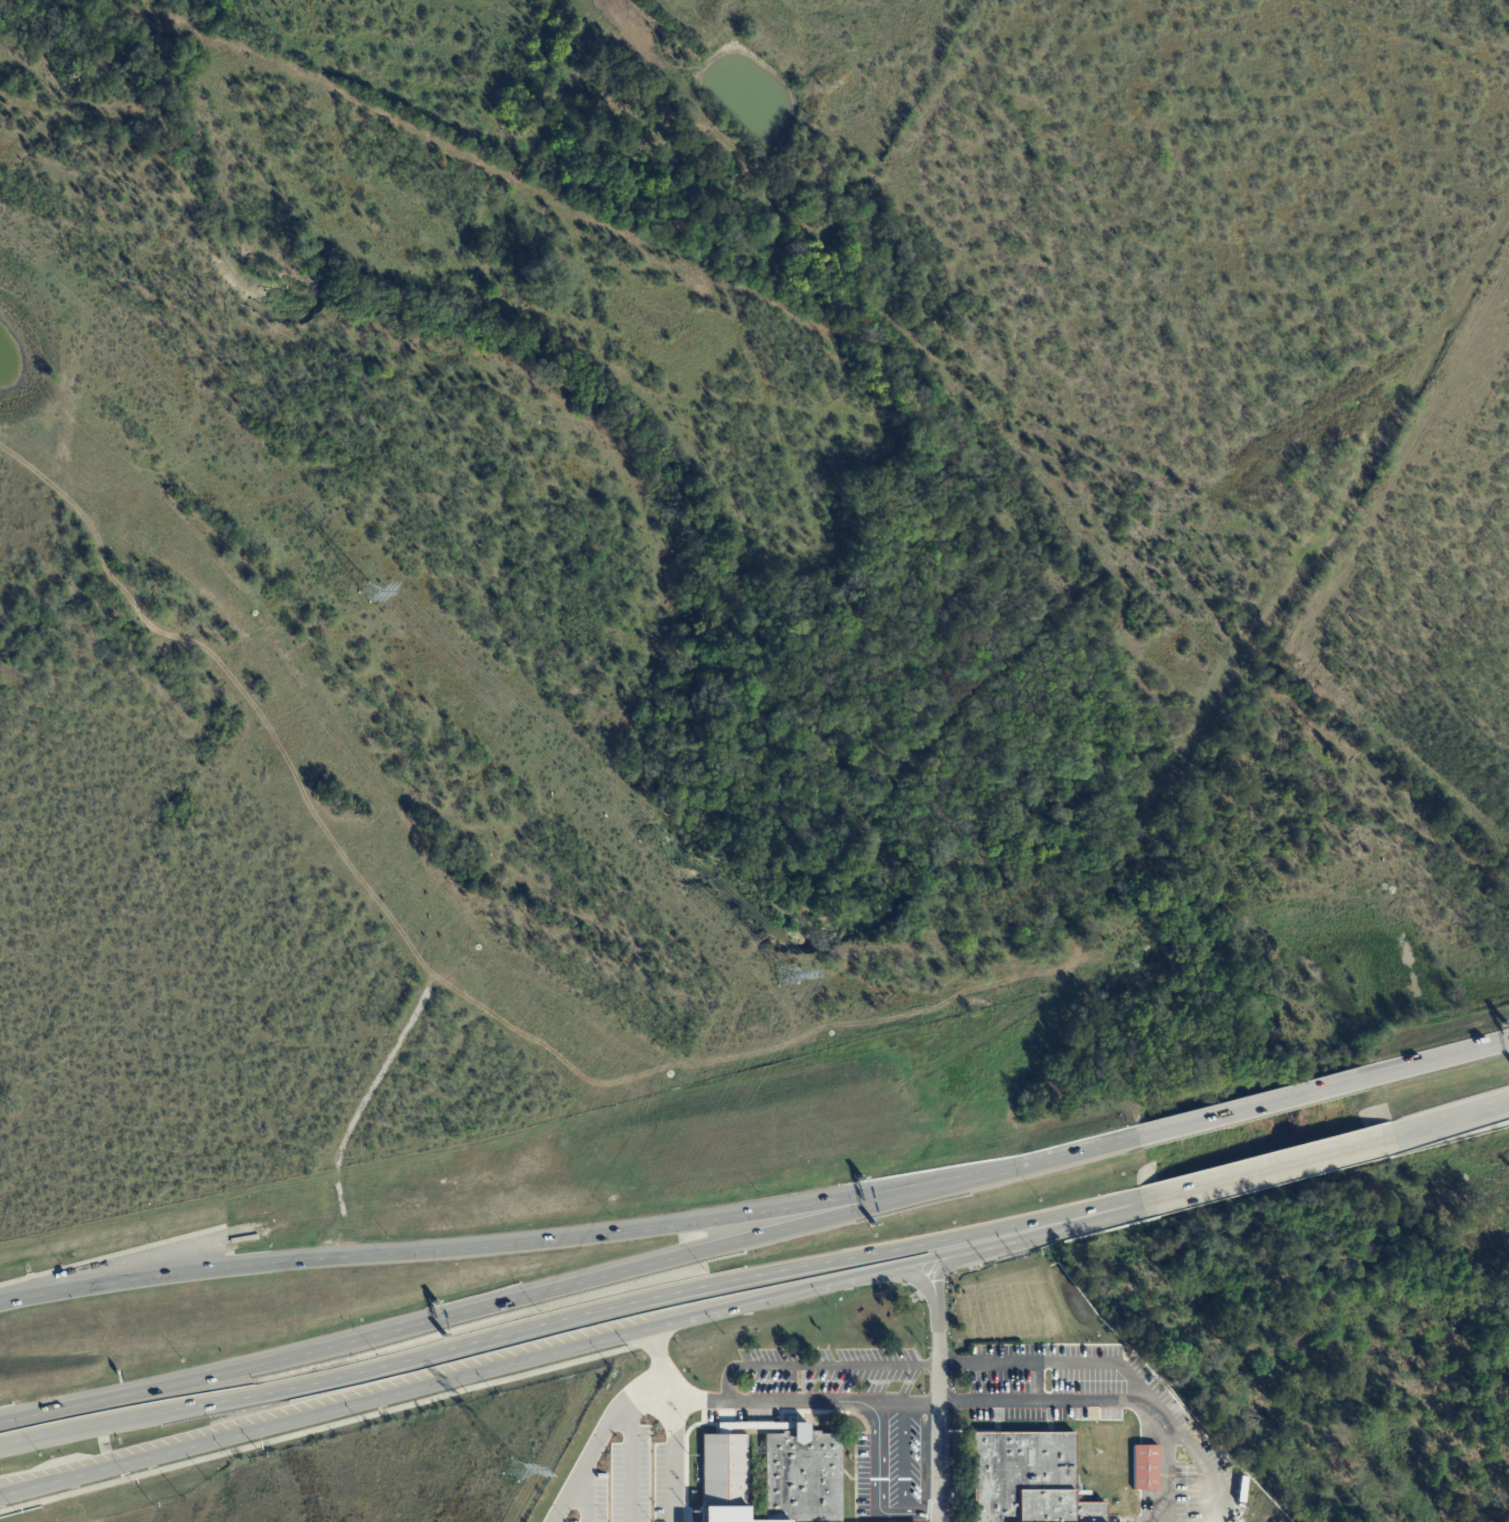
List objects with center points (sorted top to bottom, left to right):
power tower: (371, 592)
power tower: (789, 973)
road: (1441, 1056)
road: (1255, 1104)
road: (1445, 1119)
road: (1050, 1158)
road: (1267, 1169)
road: (1114, 1209)
road: (1004, 1240)
road: (506, 1241)
road: (636, 1267)
road: (23, 1293)
road: (791, 1293)
road: (647, 1298)
road: (888, 1366)
road: (154, 1388)
road: (939, 1392)
road: (772, 1401)
road: (1110, 1401)
road: (324, 1411)
parking lot: (1102, 1418)
road: (111, 1419)
building: (721, 1422)
road: (328, 1424)
parking lot: (898, 1436)
road: (601, 1437)
road: (671, 1454)
building: (897, 1455)
road: (628, 1460)
parking lot: (631, 1464)
road: (1209, 1465)
building: (1145, 1467)
power tower: (514, 1468)
building: (728, 1478)
building: (805, 1479)
building: (1033, 1482)
building: (860, 1492)
building: (885, 1492)
building: (908, 1492)
road: (585, 1495)
road: (891, 1512)
building: (732, 1519)

